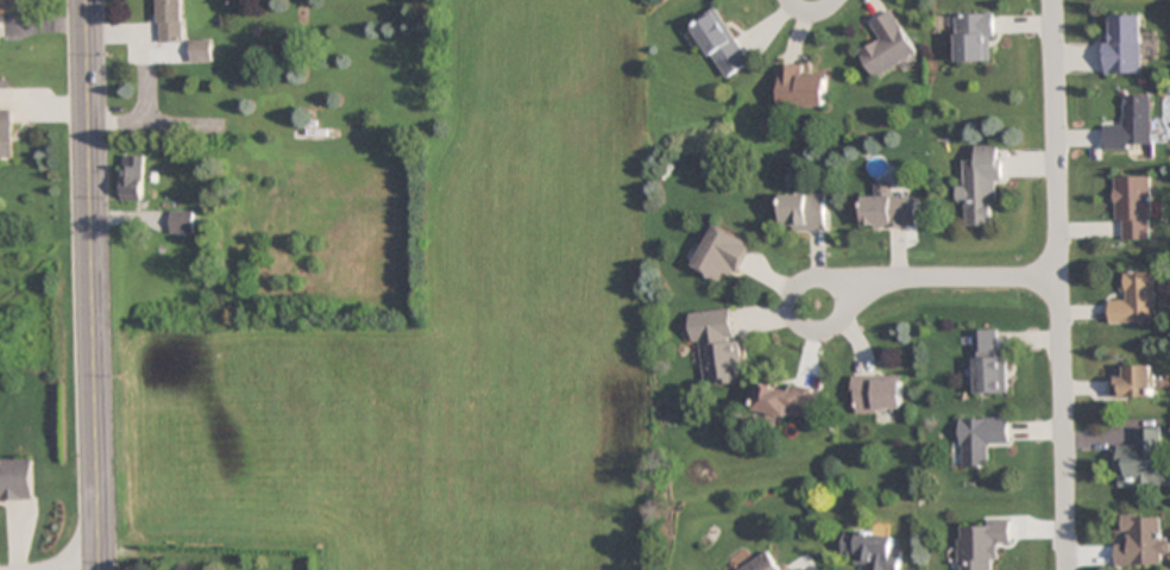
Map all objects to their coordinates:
building: (10, 7)
road: (807, 18)
building: (170, 20)
building: (975, 37)
building: (719, 44)
building: (1122, 44)
building: (886, 48)
building: (201, 51)
building: (798, 88)
building: (1132, 125)
building: (6, 133)
building: (132, 177)
building: (980, 184)
building: (1133, 208)
building: (889, 213)
building: (803, 214)
building: (183, 220)
building: (722, 253)
road: (957, 281)
road: (90, 284)
road: (1055, 284)
building: (1134, 300)
road: (795, 332)
building: (716, 346)
crop: (439, 349)
building: (987, 364)
building: (1132, 383)
building: (875, 394)
building: (786, 401)
building: (979, 438)
building: (1140, 462)
building: (15, 478)
building: (1139, 543)
building: (980, 544)
building: (869, 551)
building: (763, 562)

